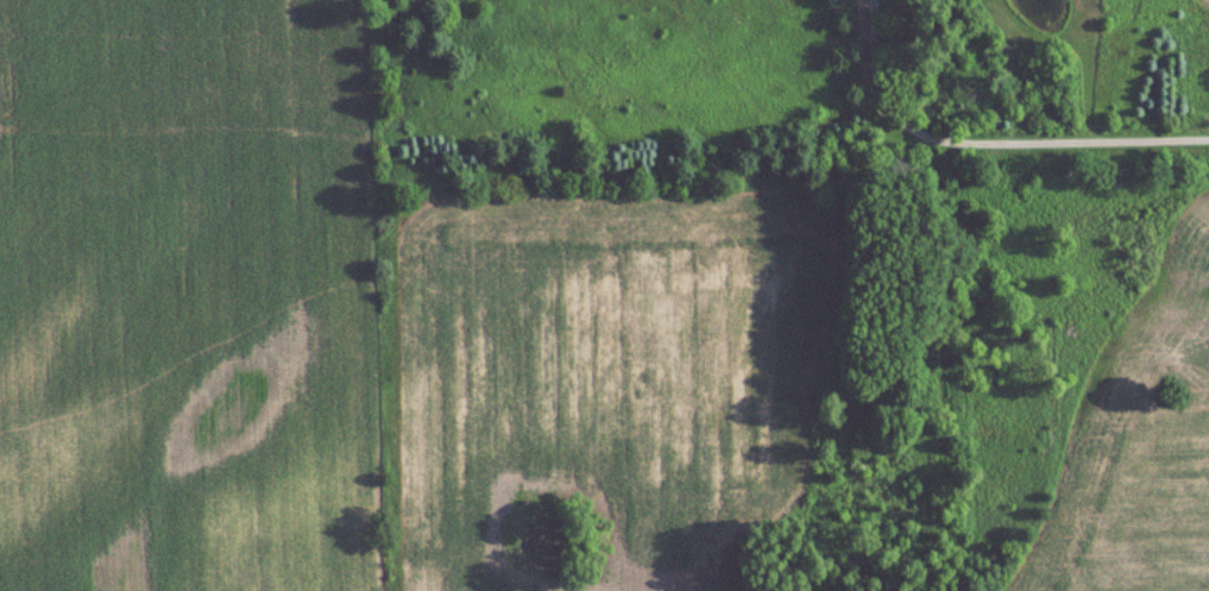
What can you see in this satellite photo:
road: (988, 140)
crop: (185, 295)
crop: (596, 389)
crop: (1148, 449)

